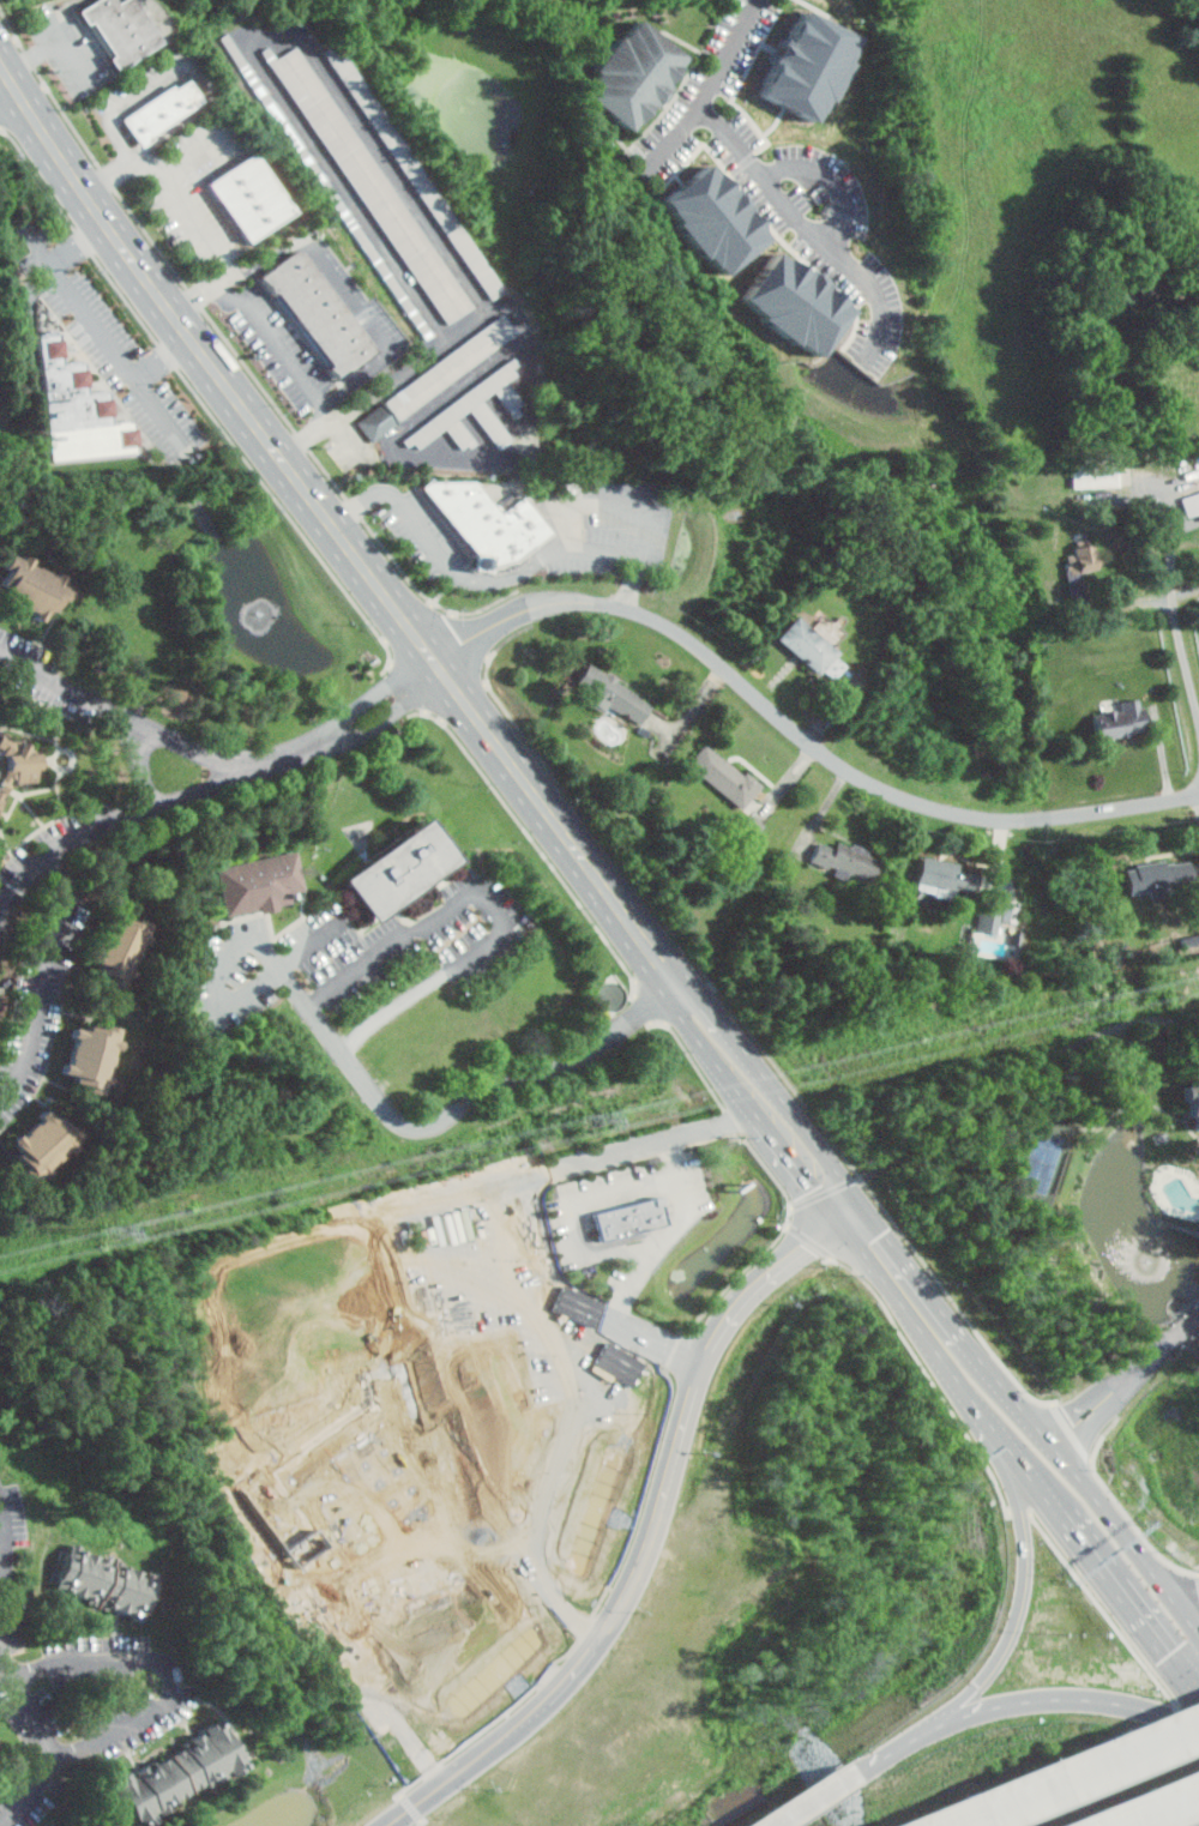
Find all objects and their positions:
building: (115, 30)
road: (76, 49)
road: (38, 54)
road: (188, 64)
building: (809, 66)
road: (4, 73)
building: (634, 74)
road: (712, 90)
building: (159, 110)
road: (197, 156)
building: (411, 174)
road: (837, 180)
building: (369, 183)
road: (174, 185)
building: (327, 186)
building: (246, 198)
building: (715, 221)
road: (811, 234)
road: (230, 283)
road: (351, 295)
building: (795, 305)
building: (317, 313)
road: (264, 319)
road: (100, 327)
road: (526, 338)
road: (163, 356)
building: (434, 378)
building: (77, 406)
building: (465, 408)
road: (332, 414)
building: (1097, 470)
road: (614, 501)
building: (1193, 502)
road: (332, 522)
building: (482, 524)
building: (1083, 556)
road: (490, 575)
building: (25, 591)
road: (1177, 597)
building: (818, 653)
building: (610, 692)
road: (375, 693)
road: (390, 713)
building: (1122, 718)
road: (800, 731)
road: (158, 734)
building: (18, 761)
building: (725, 775)
road: (101, 822)
building: (846, 860)
building: (391, 867)
building: (1161, 875)
building: (947, 878)
building: (258, 882)
road: (492, 909)
building: (993, 917)
building: (118, 947)
road: (283, 966)
road: (43, 977)
power tower: (1198, 977)
road: (725, 1042)
building: (92, 1057)
road: (1011, 1089)
road: (458, 1103)
building: (1192, 1104)
power tower: (591, 1119)
building: (46, 1143)
road: (814, 1158)
park: (1046, 1159)
road: (574, 1205)
traffic signals: (854, 1211)
building: (632, 1217)
power tower: (115, 1229)
road: (668, 1234)
road: (766, 1274)
road: (924, 1278)
building: (314, 1340)
road: (939, 1356)
road: (1126, 1379)
road: (682, 1428)
building: (559, 1487)
road: (1095, 1491)
road: (638, 1567)
building: (108, 1581)
building: (405, 1597)
road: (1120, 1599)
road: (1192, 1608)
road: (1017, 1613)
traffic signals: (1165, 1661)
road: (173, 1665)
road: (22, 1682)
road: (565, 1682)
road: (1048, 1698)
road: (867, 1762)
building: (181, 1772)
road: (1073, 1774)
road: (448, 1776)
road: (799, 1804)
road: (1156, 1808)

